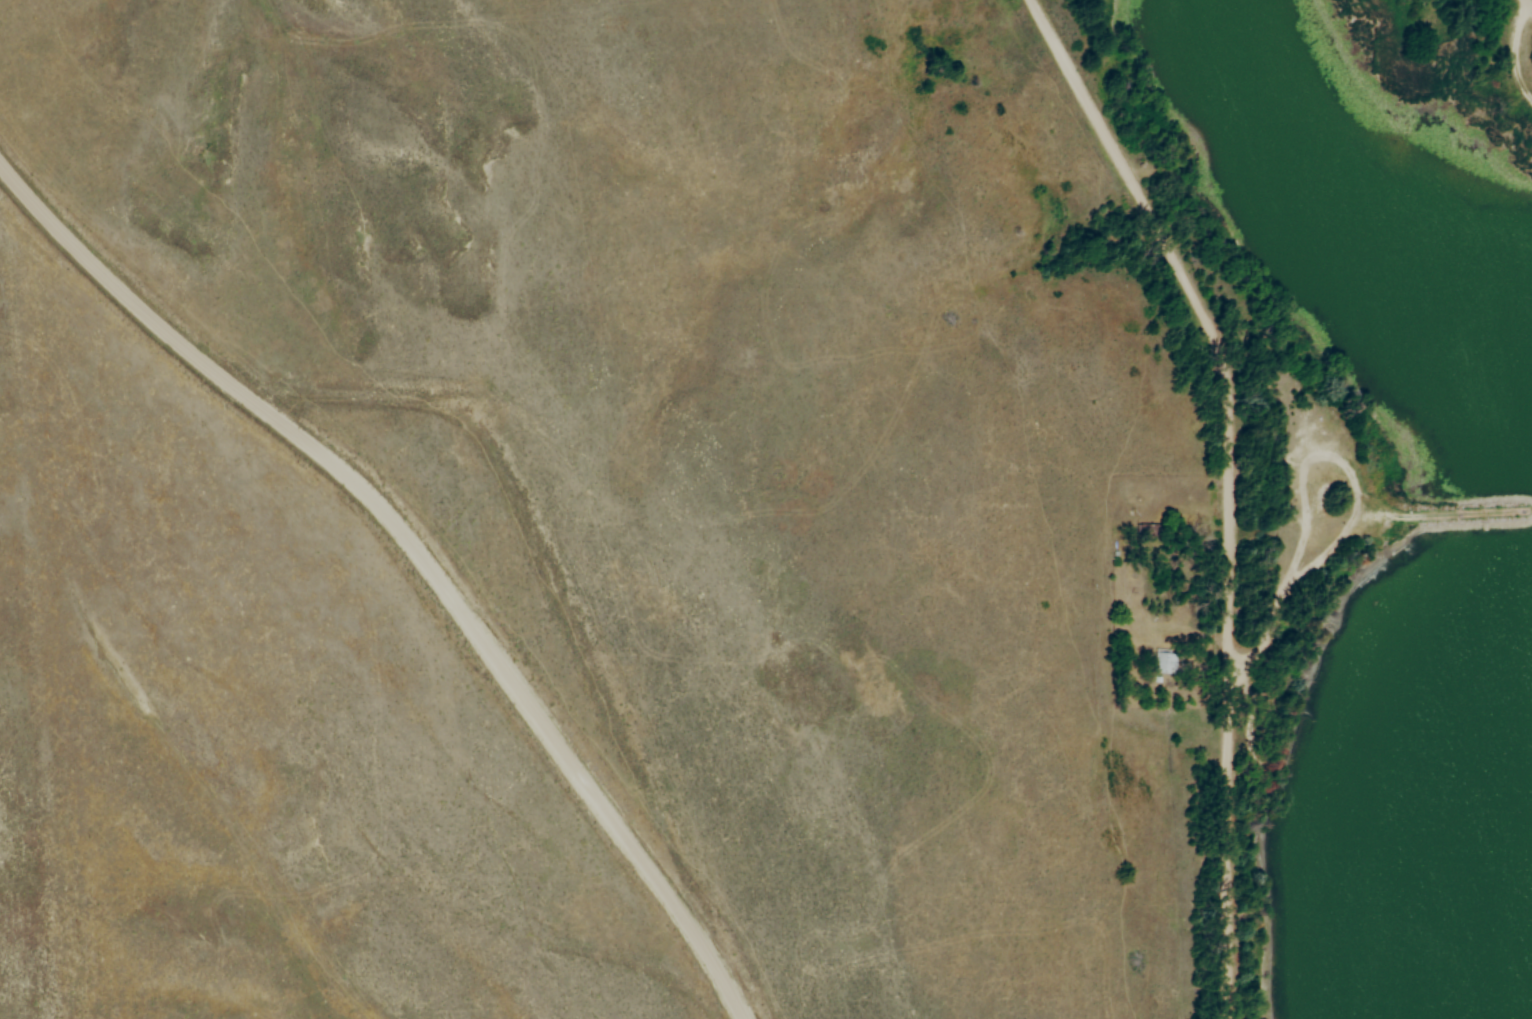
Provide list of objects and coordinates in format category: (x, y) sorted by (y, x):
road: (1531, 0)
road: (1228, 483)
park: (1309, 489)
road: (420, 549)
building: (1162, 661)

